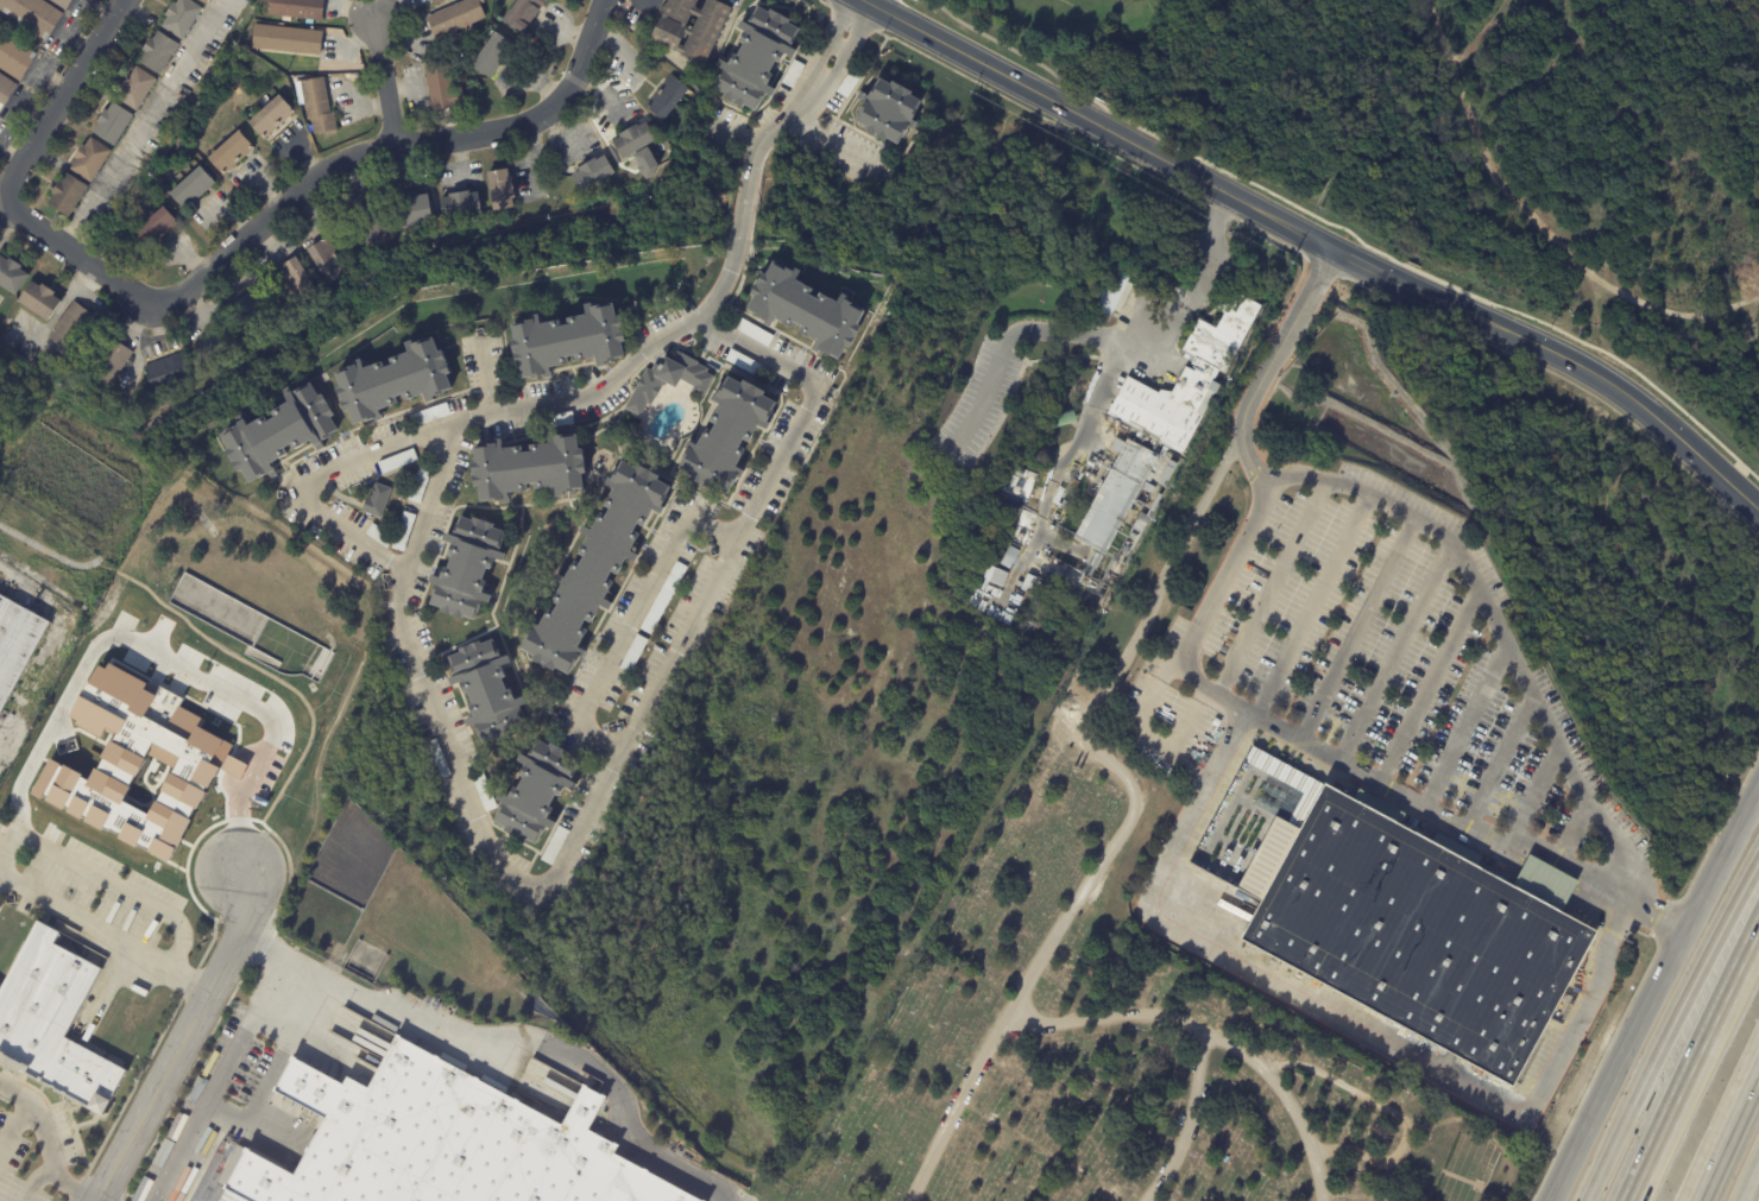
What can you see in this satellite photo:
building: (203, 1)
building: (439, 1)
building: (61, 4)
building: (297, 10)
building: (523, 13)
building: (32, 15)
building: (181, 17)
building: (456, 18)
building: (686, 32)
building: (286, 40)
building: (158, 52)
building: (491, 56)
building: (13, 57)
building: (756, 58)
building: (793, 74)
road: (49, 78)
road: (387, 83)
building: (849, 84)
building: (135, 87)
building: (5, 89)
building: (443, 91)
road: (61, 95)
building: (195, 95)
building: (667, 99)
building: (317, 106)
building: (890, 112)
building: (271, 116)
building: (113, 124)
road: (147, 125)
road: (1102, 125)
building: (633, 140)
road: (827, 144)
building: (229, 153)
building: (89, 159)
building: (592, 175)
building: (190, 188)
building: (500, 190)
road: (305, 191)
building: (65, 195)
building: (459, 206)
building: (412, 213)
building: (114, 221)
road: (1537, 225)
building: (374, 226)
building: (155, 229)
building: (120, 242)
building: (327, 263)
road: (1362, 264)
building: (11, 276)
building: (296, 282)
road: (723, 282)
building: (1114, 295)
building: (38, 302)
building: (807, 312)
building: (253, 317)
building: (754, 333)
building: (77, 335)
road: (1525, 342)
building: (568, 343)
building: (214, 347)
building: (744, 364)
building: (107, 365)
building: (166, 372)
road: (1108, 377)
road: (488, 378)
building: (392, 383)
building: (670, 383)
building: (541, 392)
building: (430, 416)
building: (1165, 418)
building: (560, 421)
building: (1067, 421)
building: (279, 435)
building: (727, 438)
building: (1085, 447)
road: (1701, 459)
building: (397, 462)
building: (528, 469)
building: (1167, 473)
building: (1074, 483)
building: (420, 485)
building: (1149, 488)
building: (376, 502)
road: (1754, 506)
building: (1150, 510)
road: (338, 527)
building: (404, 532)
building: (378, 537)
road: (1058, 545)
building: (1010, 558)
road: (87, 563)
building: (468, 569)
building: (595, 571)
building: (994, 577)
building: (1028, 584)
building: (1020, 586)
building: (30, 587)
road: (1273, 589)
building: (1087, 595)
building: (664, 599)
road: (1309, 601)
road: (632, 619)
road: (1358, 625)
road: (1498, 626)
building: (17, 646)
road: (1397, 647)
road: (169, 653)
building: (633, 655)
parking lot: (1388, 663)
road: (1431, 677)
building: (487, 691)
road: (1224, 695)
road: (1469, 721)
road: (1143, 735)
road: (626, 741)
road: (1500, 758)
building: (437, 759)
building: (1269, 766)
building: (484, 794)
building: (536, 794)
road: (1536, 795)
road: (1130, 813)
road: (1572, 832)
building: (554, 847)
road: (105, 883)
parking lot: (93, 892)
building: (1411, 929)
road: (103, 934)
road: (1654, 991)
road: (1351, 1019)
building: (52, 1024)
road: (1667, 1030)
road: (323, 1031)
road: (1212, 1035)
park: (1121, 1038)
road: (182, 1039)
road: (505, 1039)
road: (1692, 1063)
road: (272, 1069)
road: (507, 1070)
road: (219, 1081)
road: (1394, 1112)
road: (1187, 1120)
road: (14, 1125)
road: (263, 1133)
road: (1727, 1136)
building: (431, 1138)
road: (44, 1140)
parking lot: (36, 1148)
road: (1748, 1178)
road: (34, 1182)
parking lot: (726, 1191)

